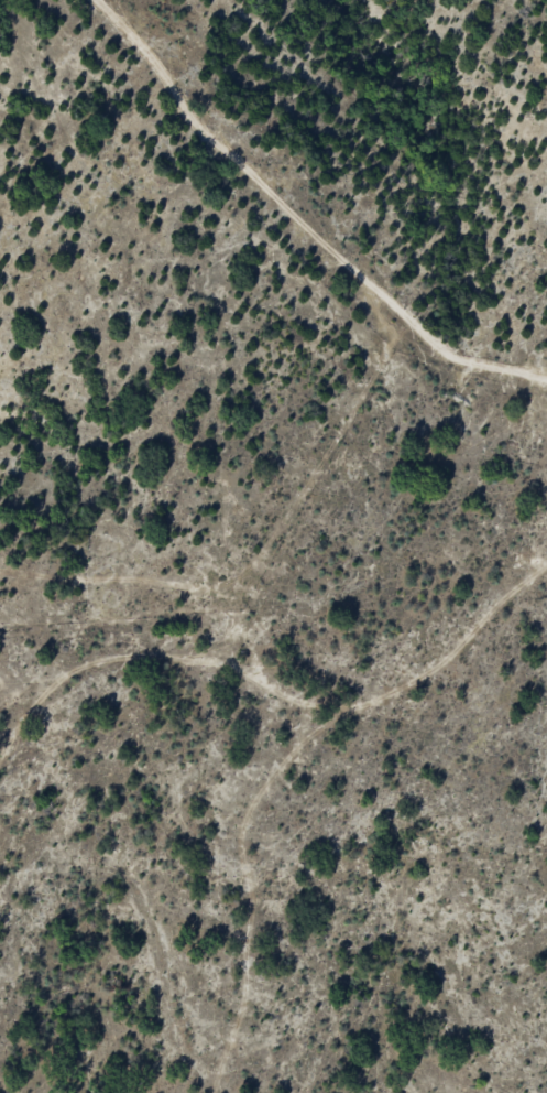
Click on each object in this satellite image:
road: (303, 210)

